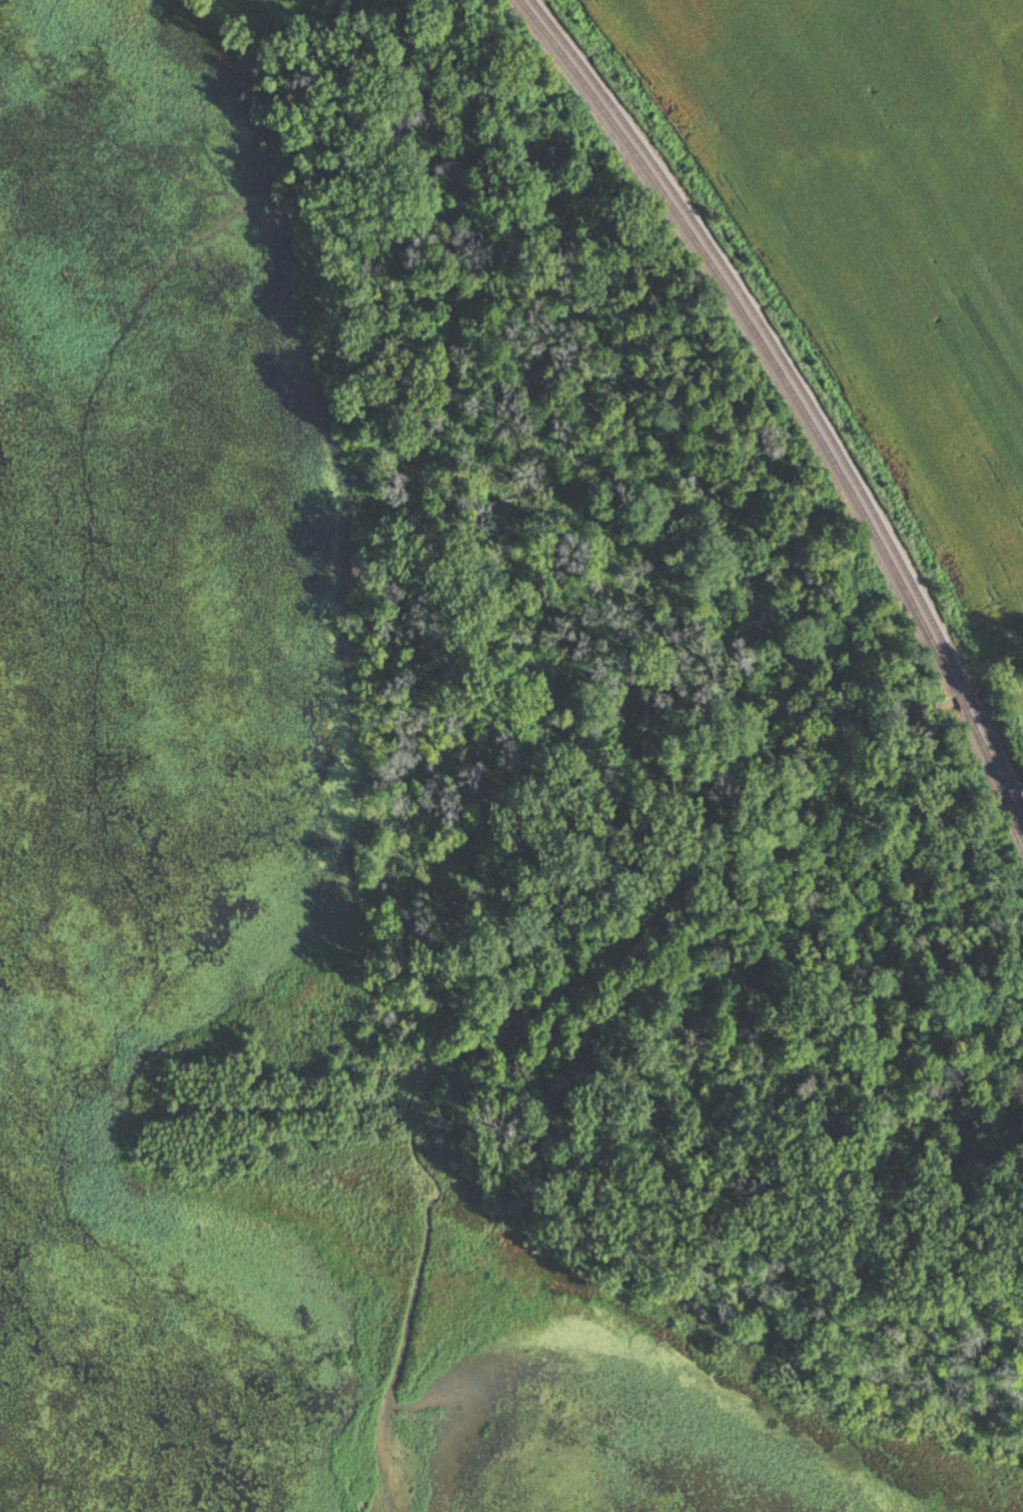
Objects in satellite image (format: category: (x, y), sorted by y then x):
crop: (876, 235)
railway: (764, 333)
railway: (754, 335)
railway: (967, 696)
railway: (959, 701)
railway: (997, 757)
railway: (993, 769)

